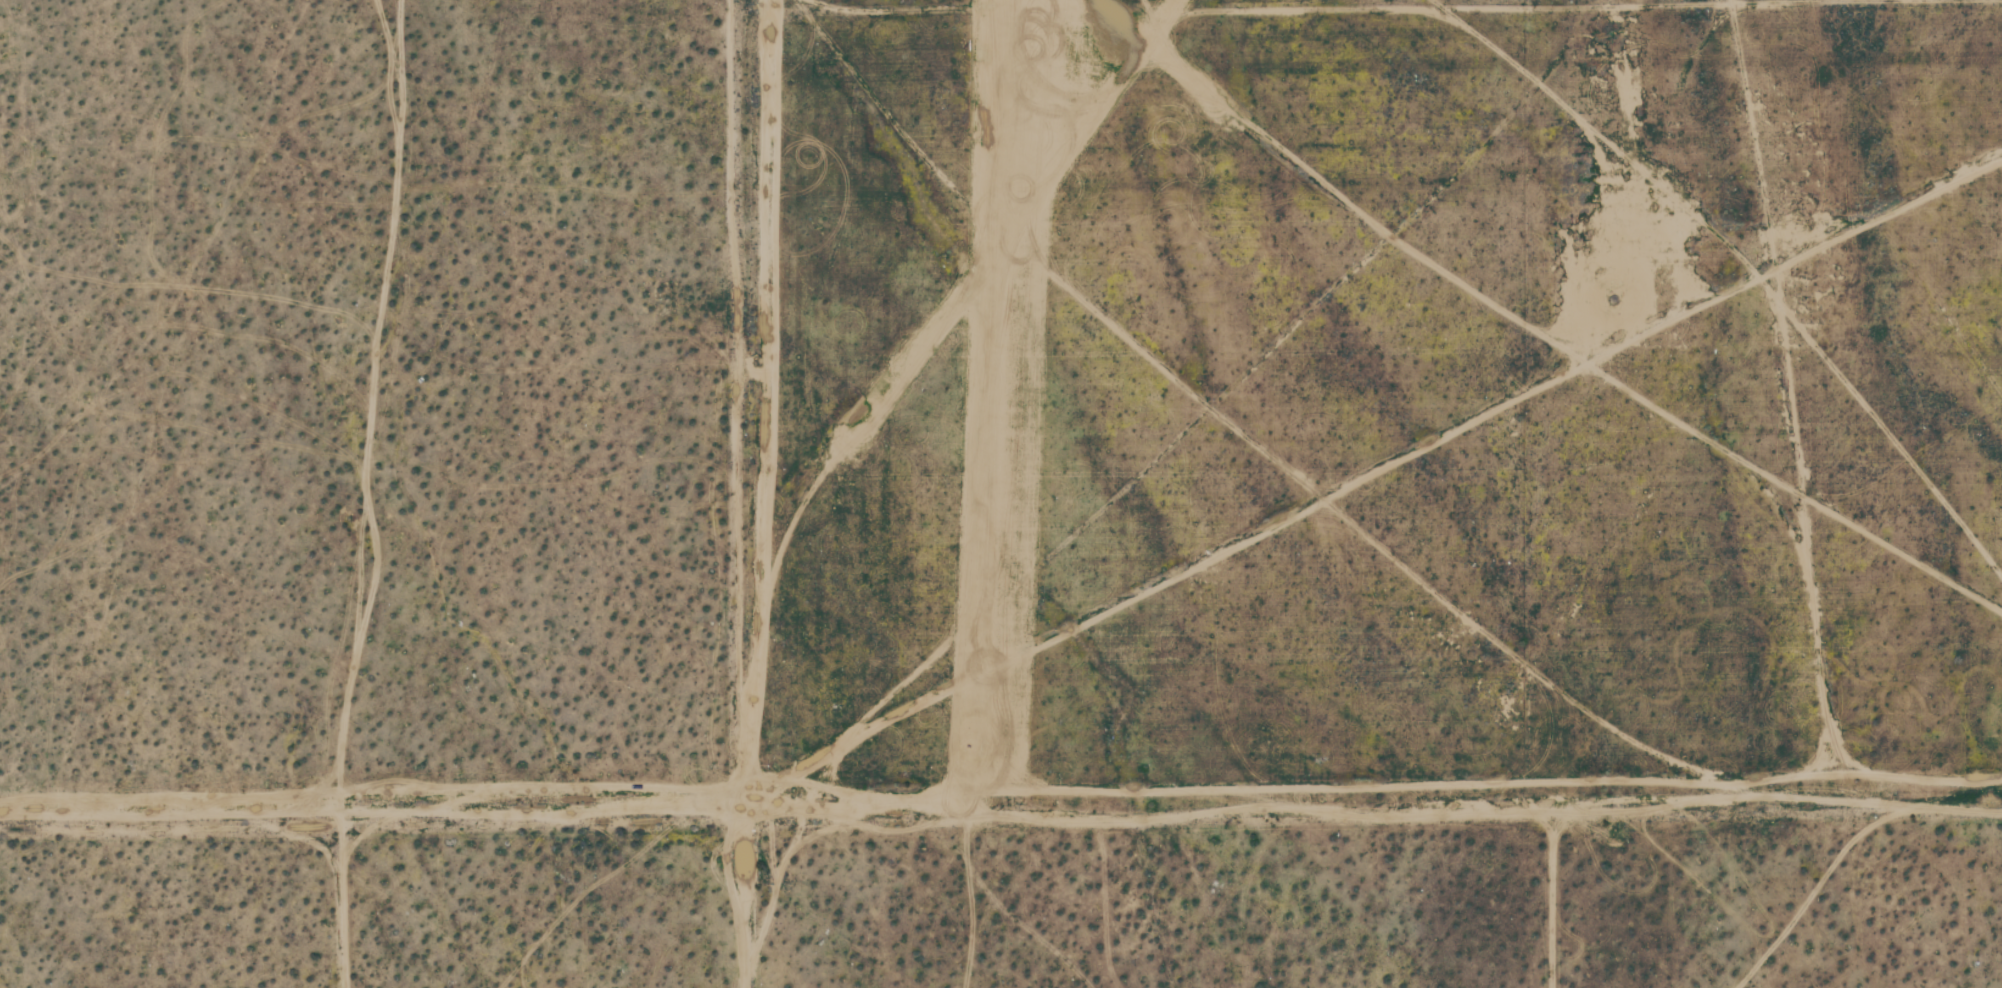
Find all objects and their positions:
road: (761, 493)
road: (1000, 805)
road: (1552, 895)

